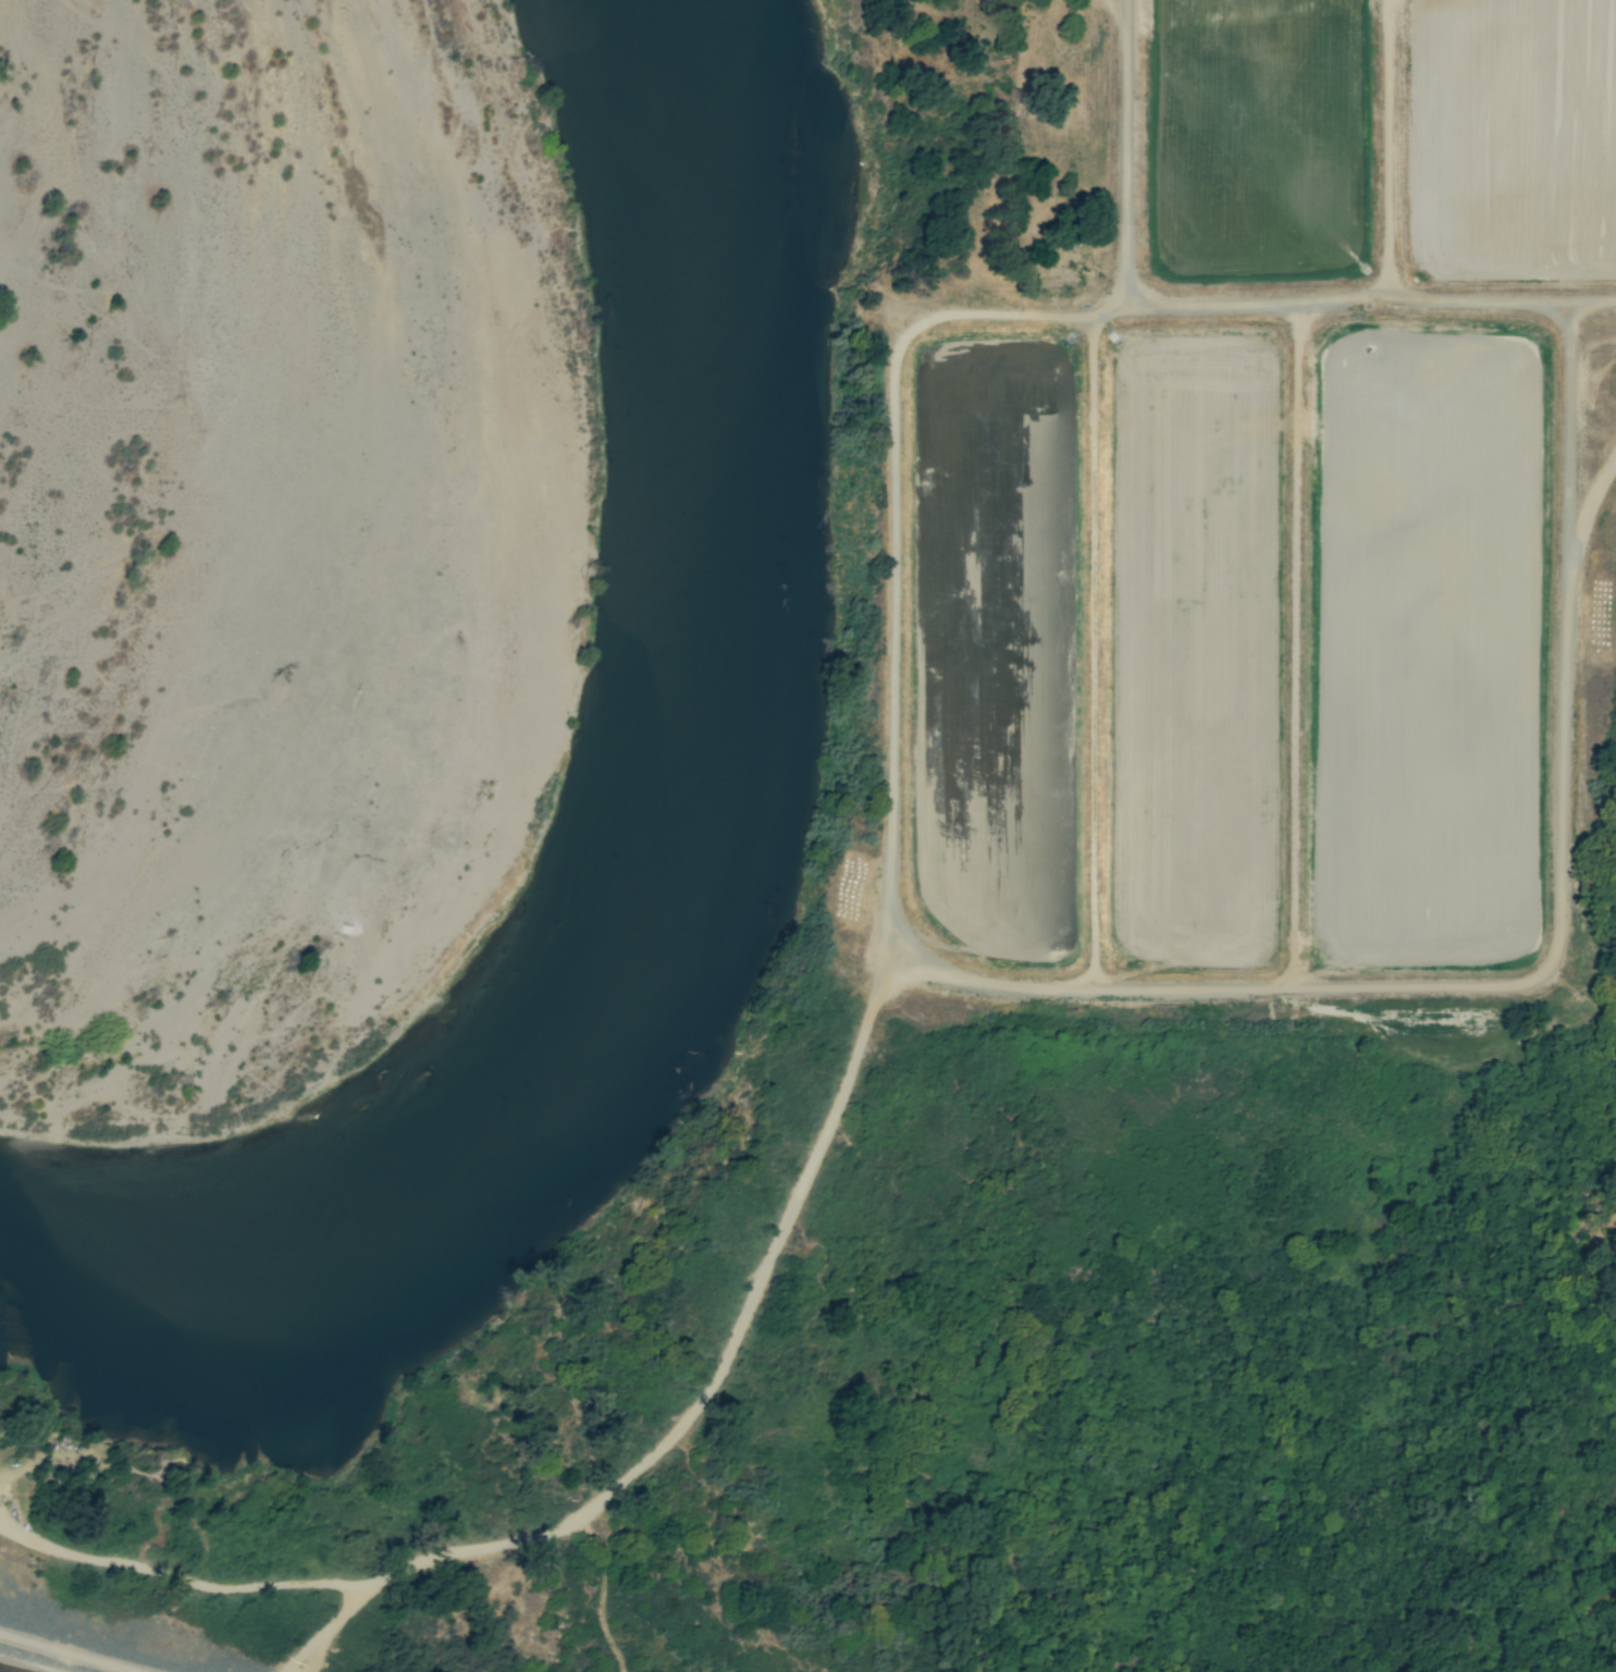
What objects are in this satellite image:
river: (687, 874)
crop: (7, 1670)

